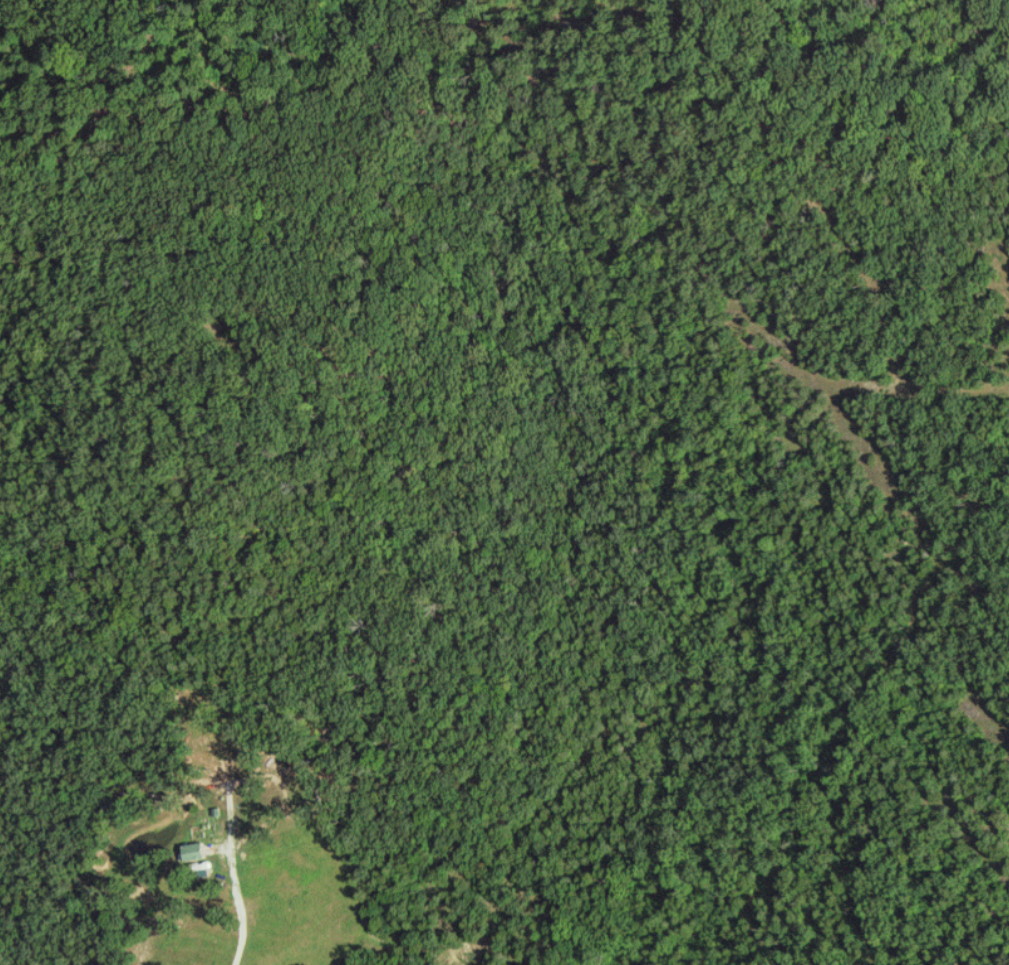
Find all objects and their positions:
building: (203, 850)
road: (247, 907)

